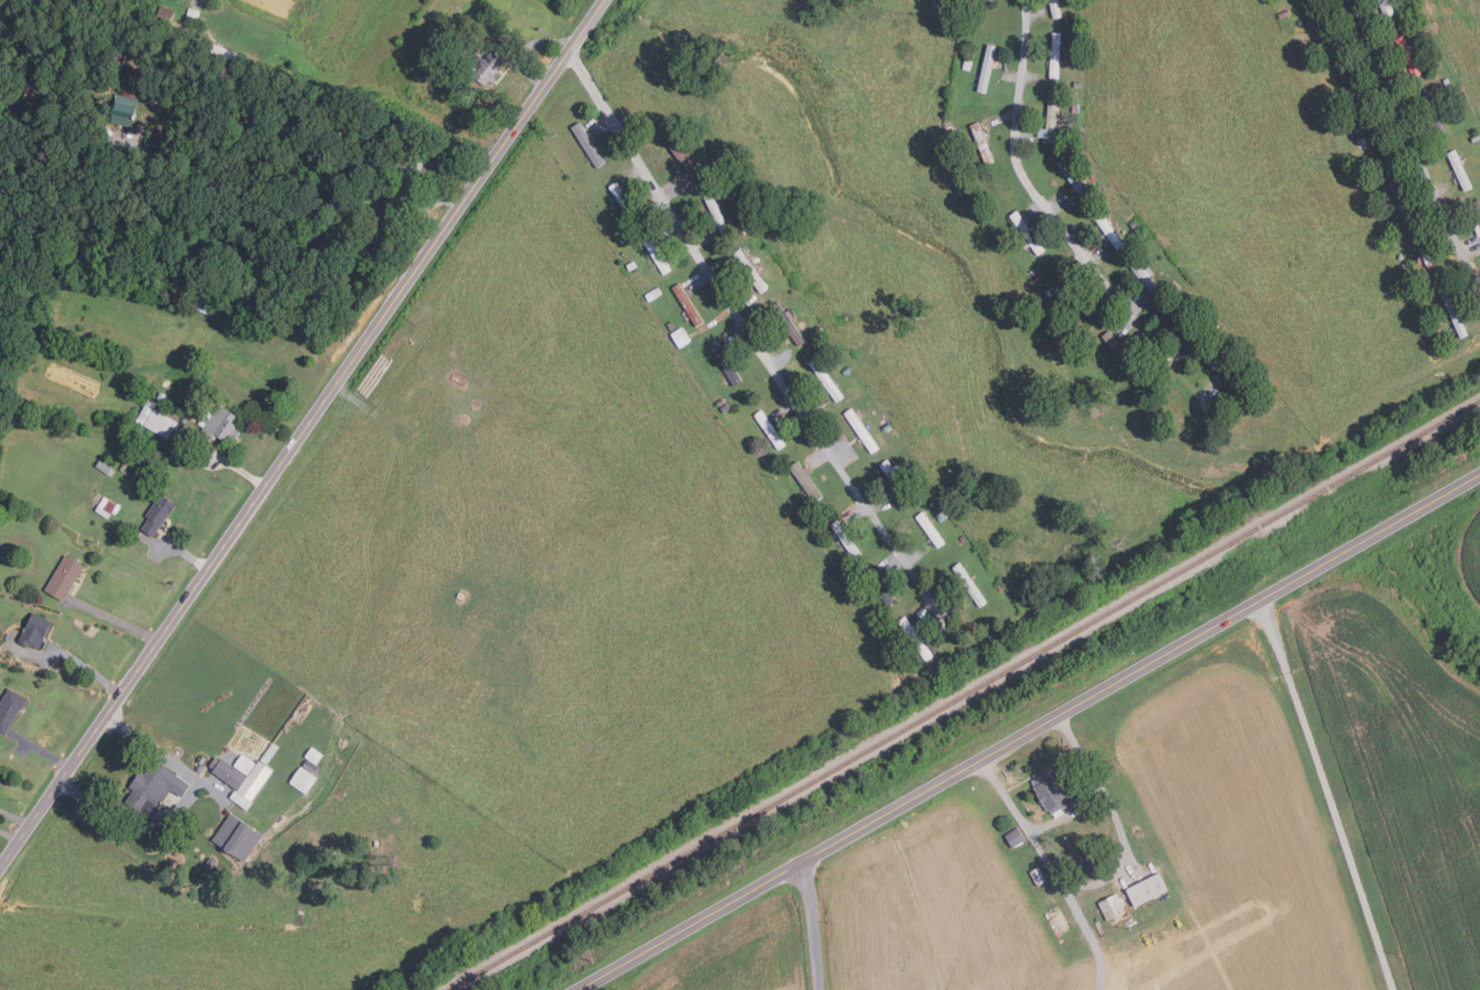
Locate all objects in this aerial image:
building: (908, 0)
building: (988, 0)
building: (1054, 8)
building: (1386, 8)
building: (1284, 14)
building: (164, 15)
building: (192, 15)
building: (1323, 27)
building: (1426, 29)
building: (180, 32)
road: (528, 48)
building: (126, 51)
building: (226, 54)
building: (1054, 55)
building: (1408, 56)
building: (967, 65)
building: (484, 67)
building: (986, 69)
building: (1346, 79)
building: (1447, 83)
building: (1077, 85)
building: (368, 103)
building: (124, 110)
building: (1432, 110)
building: (85, 111)
building: (1049, 123)
building: (1373, 137)
building: (1475, 139)
road: (1412, 142)
building: (981, 143)
building: (588, 145)
building: (362, 152)
building: (86, 153)
building: (684, 160)
building: (573, 167)
building: (706, 167)
building: (1459, 171)
building: (407, 172)
building: (1356, 173)
building: (1073, 179)
building: (1397, 192)
building: (621, 196)
road: (273, 207)
building: (1370, 210)
building: (1476, 210)
building: (715, 214)
road: (1053, 217)
building: (1133, 223)
building: (1107, 229)
building: (1138, 229)
building: (1026, 233)
building: (1141, 236)
building: (1423, 250)
building: (656, 254)
building: (1400, 257)
building: (1404, 267)
building: (751, 270)
building: (1037, 274)
building: (1147, 281)
building: (319, 283)
building: (1172, 284)
building: (206, 290)
building: (653, 293)
building: (1175, 295)
building: (1077, 296)
building: (688, 305)
building: (1453, 316)
building: (1208, 322)
building: (788, 324)
building: (670, 325)
building: (1183, 326)
building: (1214, 327)
building: (819, 329)
road: (748, 332)
building: (681, 336)
building: (1222, 338)
building: (1085, 339)
building: (1119, 351)
building: (724, 363)
building: (846, 370)
building: (1222, 373)
building: (825, 379)
building: (161, 396)
building: (720, 401)
building: (725, 407)
building: (154, 419)
building: (219, 424)
building: (886, 426)
building: (769, 428)
building: (862, 431)
road: (303, 435)
building: (103, 466)
building: (123, 466)
road: (235, 468)
building: (916, 473)
building: (134, 475)
building: (920, 480)
building: (806, 481)
building: (897, 482)
building: (105, 507)
building: (945, 513)
building: (156, 514)
building: (930, 529)
building: (815, 530)
building: (845, 538)
building: (963, 539)
road: (183, 551)
building: (63, 576)
building: (969, 585)
building: (879, 587)
building: (1001, 587)
road: (114, 619)
building: (32, 630)
building: (916, 638)
building: (886, 643)
road: (85, 665)
railway: (965, 694)
building: (10, 707)
road: (1030, 731)
road: (43, 750)
building: (268, 753)
building: (312, 755)
building: (201, 759)
building: (243, 764)
building: (309, 766)
building: (226, 772)
building: (302, 780)
building: (250, 785)
building: (153, 788)
building: (1053, 793)
road: (1329, 795)
road: (185, 804)
road: (16, 818)
building: (235, 837)
building: (1014, 837)
building: (1037, 875)
road: (1104, 878)
building: (1145, 890)
building: (1111, 906)
road: (816, 925)
road: (918, 989)

